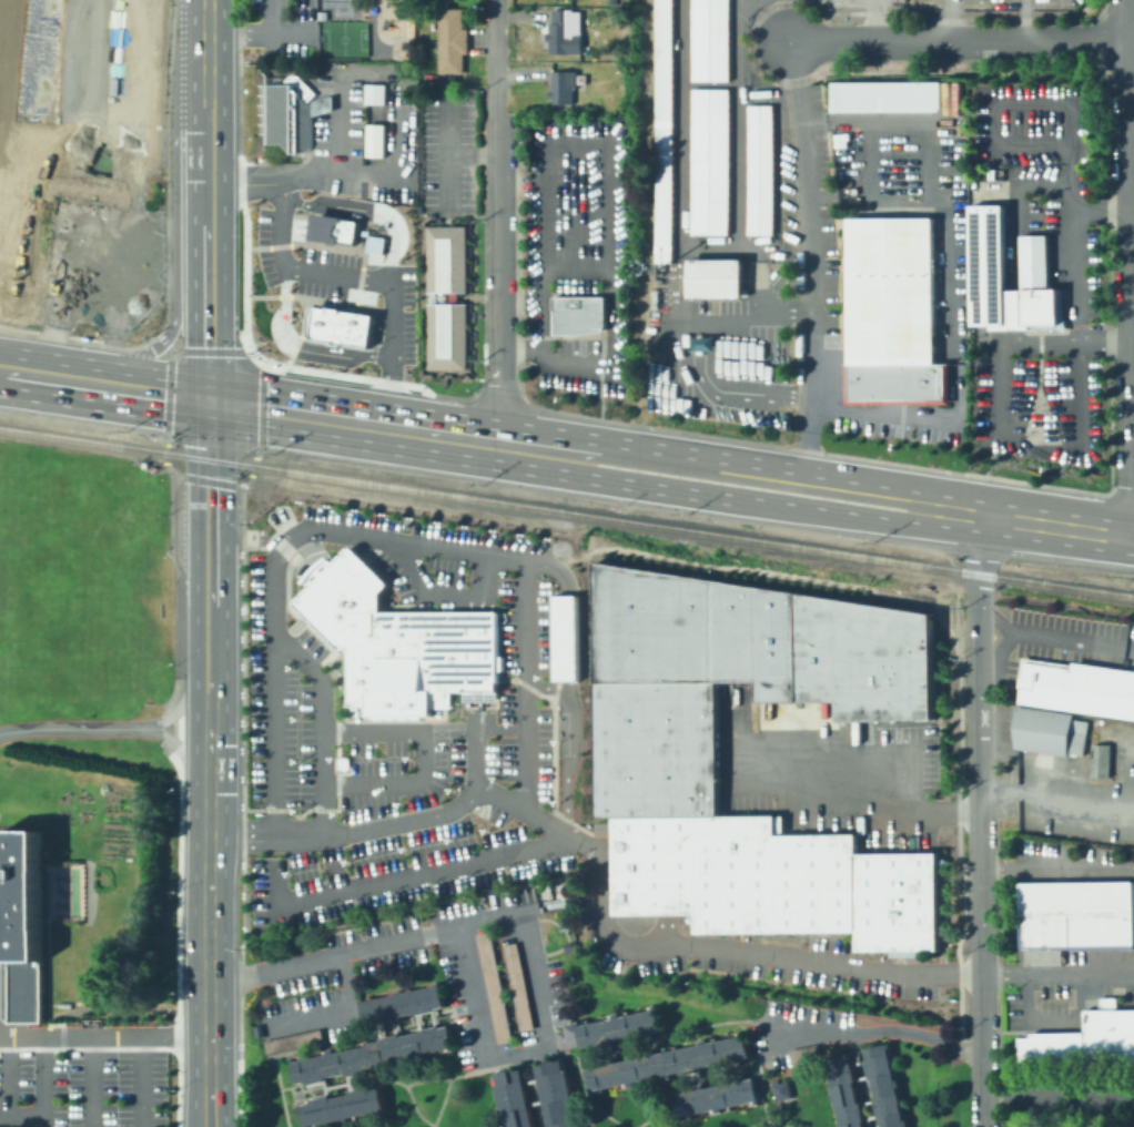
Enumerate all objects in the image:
building: (584, 1)
road: (1064, 1)
road: (746, 4)
road: (207, 17)
road: (271, 19)
road: (953, 19)
road: (30, 20)
road: (877, 20)
road: (944, 20)
road: (1021, 21)
road: (1127, 21)
building: (567, 32)
road: (232, 33)
road: (288, 34)
park: (342, 38)
building: (710, 40)
building: (453, 41)
road: (960, 42)
road: (49, 43)
road: (1131, 43)
building: (614, 51)
road: (500, 52)
building: (133, 62)
road: (32, 64)
road: (207, 69)
building: (620, 69)
park: (39, 70)
road: (1086, 70)
road: (396, 79)
building: (564, 88)
road: (53, 89)
road: (774, 89)
building: (374, 93)
building: (885, 95)
building: (946, 97)
building: (956, 97)
road: (1055, 102)
building: (293, 112)
road: (80, 126)
road: (737, 126)
building: (664, 131)
road: (575, 141)
road: (62, 142)
road: (40, 152)
road: (474, 153)
road: (446, 155)
road: (679, 156)
building: (262, 158)
building: (710, 162)
building: (761, 170)
road: (207, 177)
road: (273, 183)
road: (81, 184)
road: (871, 194)
road: (576, 204)
road: (1014, 210)
road: (366, 211)
road: (45, 215)
building: (132, 215)
road: (311, 215)
road: (31, 222)
road: (547, 223)
road: (1131, 223)
road: (173, 227)
building: (332, 229)
road: (502, 229)
road: (483, 241)
building: (374, 244)
road: (330, 246)
road: (161, 247)
road: (760, 250)
road: (810, 256)
road: (52, 257)
road: (517, 257)
building: (989, 261)
road: (1132, 268)
road: (1076, 274)
road: (358, 276)
road: (950, 277)
building: (716, 278)
road: (540, 280)
road: (760, 282)
parking lot: (341, 283)
road: (1130, 288)
road: (74, 291)
road: (244, 292)
building: (447, 297)
road: (327, 301)
road: (1012, 307)
road: (101, 309)
road: (139, 309)
building: (894, 314)
building: (583, 315)
road: (207, 323)
building: (341, 326)
road: (615, 327)
road: (1132, 327)
road: (121, 328)
road: (155, 333)
road: (382, 333)
road: (1015, 335)
road: (302, 345)
road: (701, 348)
road: (200, 351)
road: (4, 367)
road: (49, 374)
road: (148, 388)
road: (500, 388)
road: (498, 395)
traffic signals: (209, 397)
road: (354, 405)
road: (996, 416)
road: (551, 434)
road: (350, 440)
road: (816, 451)
road: (792, 470)
road: (209, 479)
road: (1121, 487)
road: (738, 499)
road: (210, 501)
railway: (566, 512)
road: (1054, 524)
road: (1132, 535)
road: (379, 538)
road: (548, 565)
road: (439, 595)
road: (480, 600)
road: (210, 632)
building: (565, 637)
road: (569, 638)
road: (1055, 640)
building: (397, 641)
road: (479, 650)
road: (978, 660)
building: (1074, 688)
road: (570, 693)
road: (183, 705)
road: (479, 708)
road: (210, 724)
road: (67, 729)
building: (1047, 730)
road: (571, 743)
road: (180, 749)
road: (848, 752)
road: (321, 755)
road: (419, 755)
building: (1100, 760)
building: (656, 768)
road: (240, 771)
road: (1131, 780)
road: (479, 785)
road: (179, 794)
road: (1056, 795)
road: (820, 802)
road: (379, 823)
road: (241, 832)
road: (665, 865)
road: (1057, 870)
road: (405, 876)
building: (1072, 914)
road: (520, 921)
building: (22, 925)
road: (982, 926)
road: (209, 938)
road: (741, 951)
road: (1057, 973)
building: (517, 985)
building: (493, 986)
building: (81, 1003)
building: (403, 1004)
building: (64, 1006)
road: (336, 1014)
road: (1051, 1023)
building: (609, 1028)
road: (878, 1029)
building: (257, 1030)
road: (104, 1036)
building: (1083, 1038)
building: (292, 1042)
building: (374, 1055)
building: (668, 1063)
road: (10, 1075)
road: (44, 1082)
road: (94, 1082)
road: (143, 1082)
parking lot: (82, 1086)
building: (883, 1086)
road: (983, 1086)
building: (779, 1088)
building: (843, 1092)
road: (237, 1093)
building: (557, 1094)
building: (717, 1097)
building: (512, 1098)
road: (1060, 1100)
building: (347, 1105)
road: (204, 1106)
road: (212, 1106)
road: (21, 1115)
building: (2, 1126)

